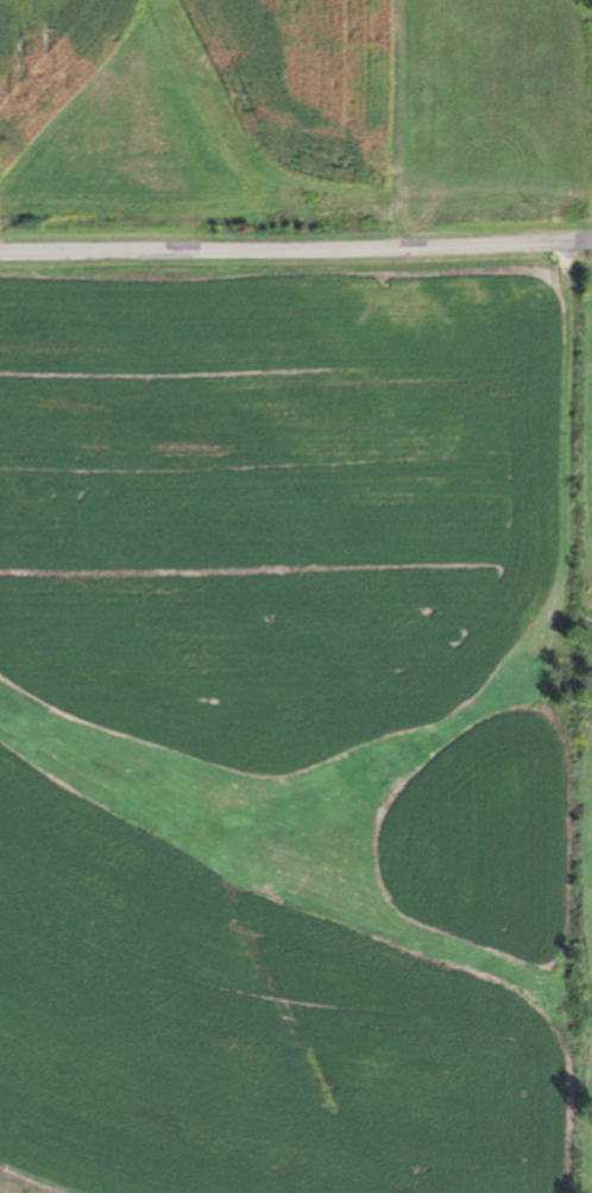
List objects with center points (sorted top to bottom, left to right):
road: (296, 251)

